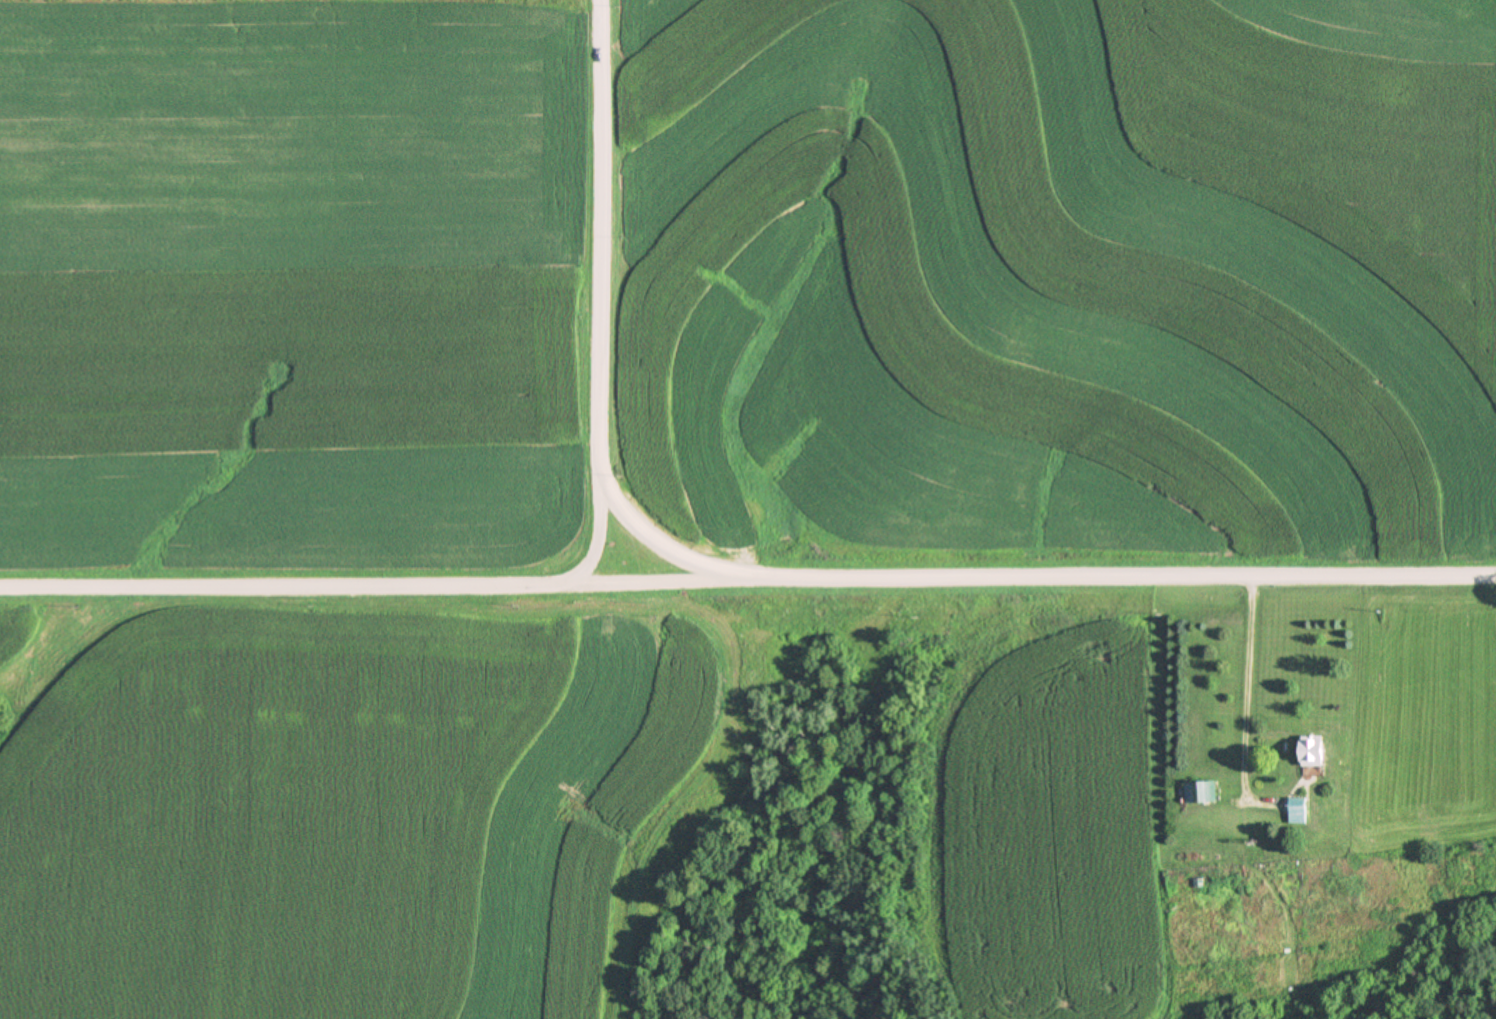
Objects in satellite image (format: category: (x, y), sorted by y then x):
road: (606, 318)
road: (602, 541)
road: (748, 581)
road: (1245, 699)
building: (1314, 750)
building: (1201, 790)
building: (1299, 809)

